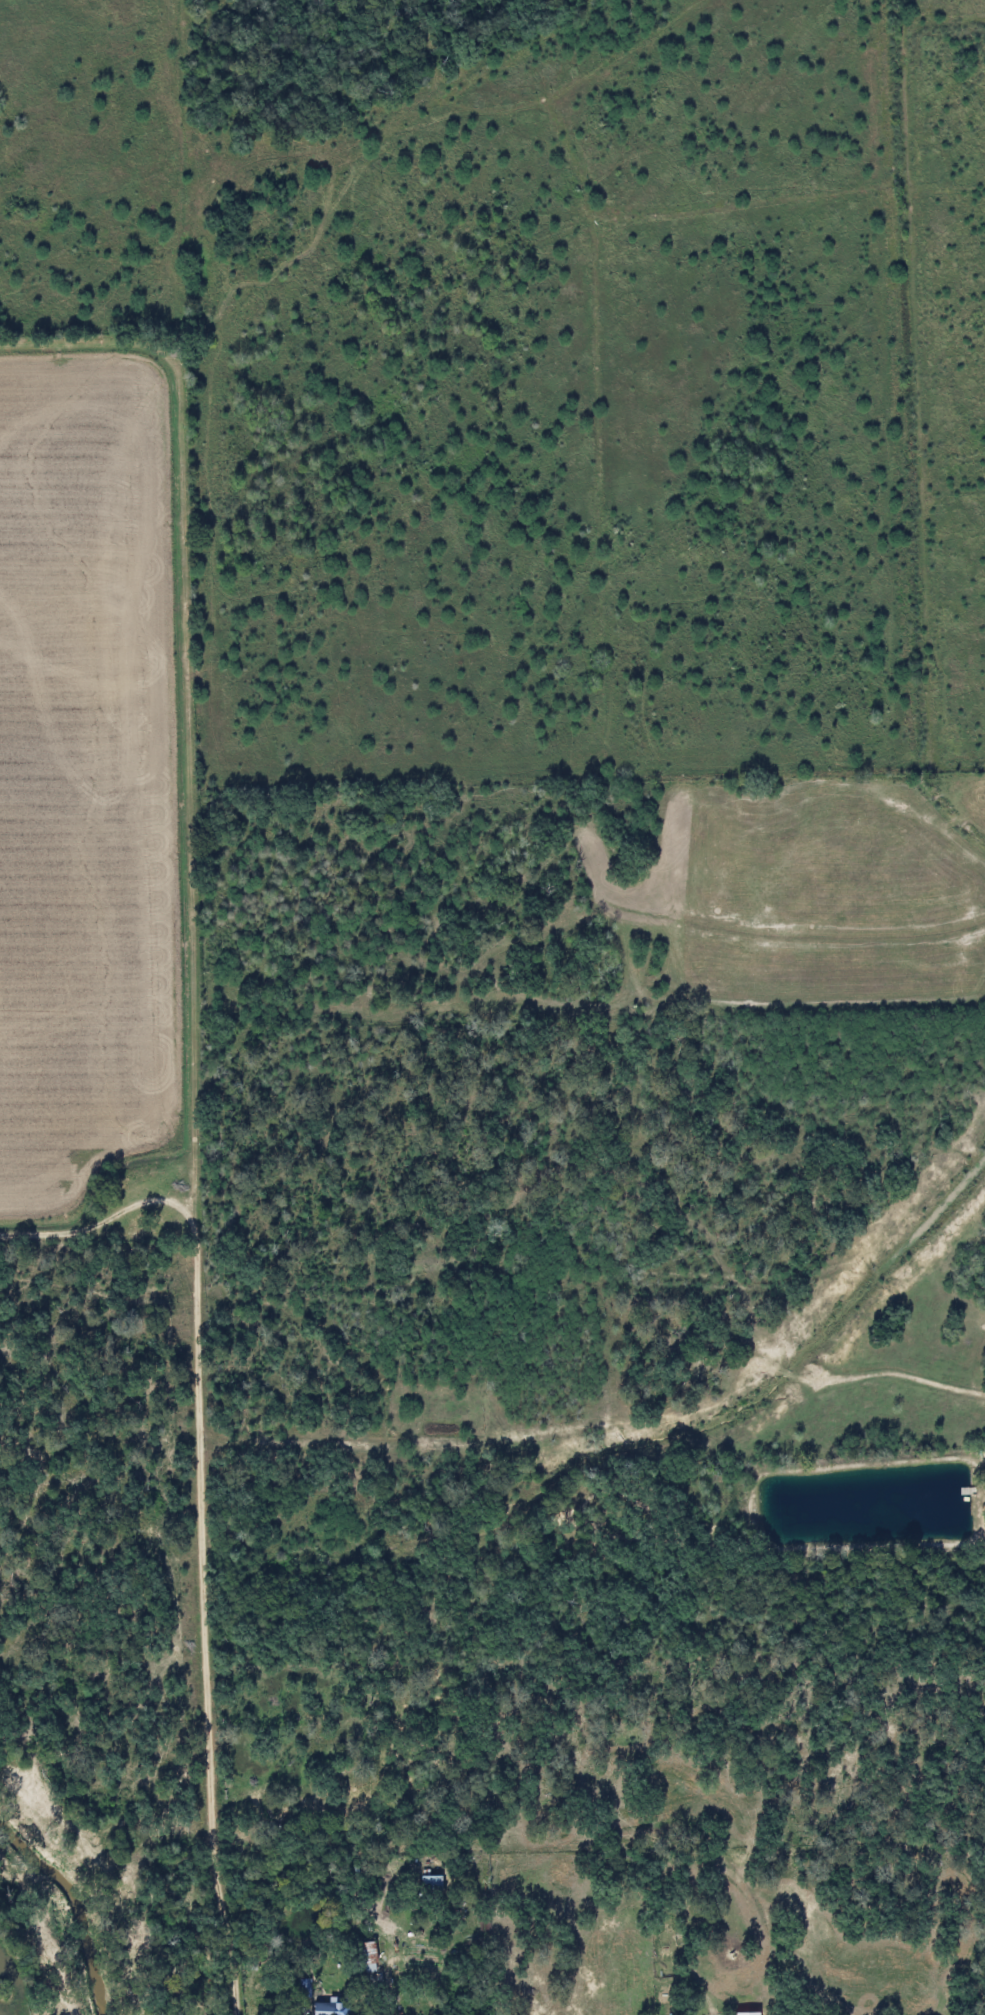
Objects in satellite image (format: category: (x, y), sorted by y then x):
road: (935, 1382)
road: (978, 1536)
building: (427, 1885)
building: (364, 1958)
building: (328, 2008)
building: (743, 2014)

